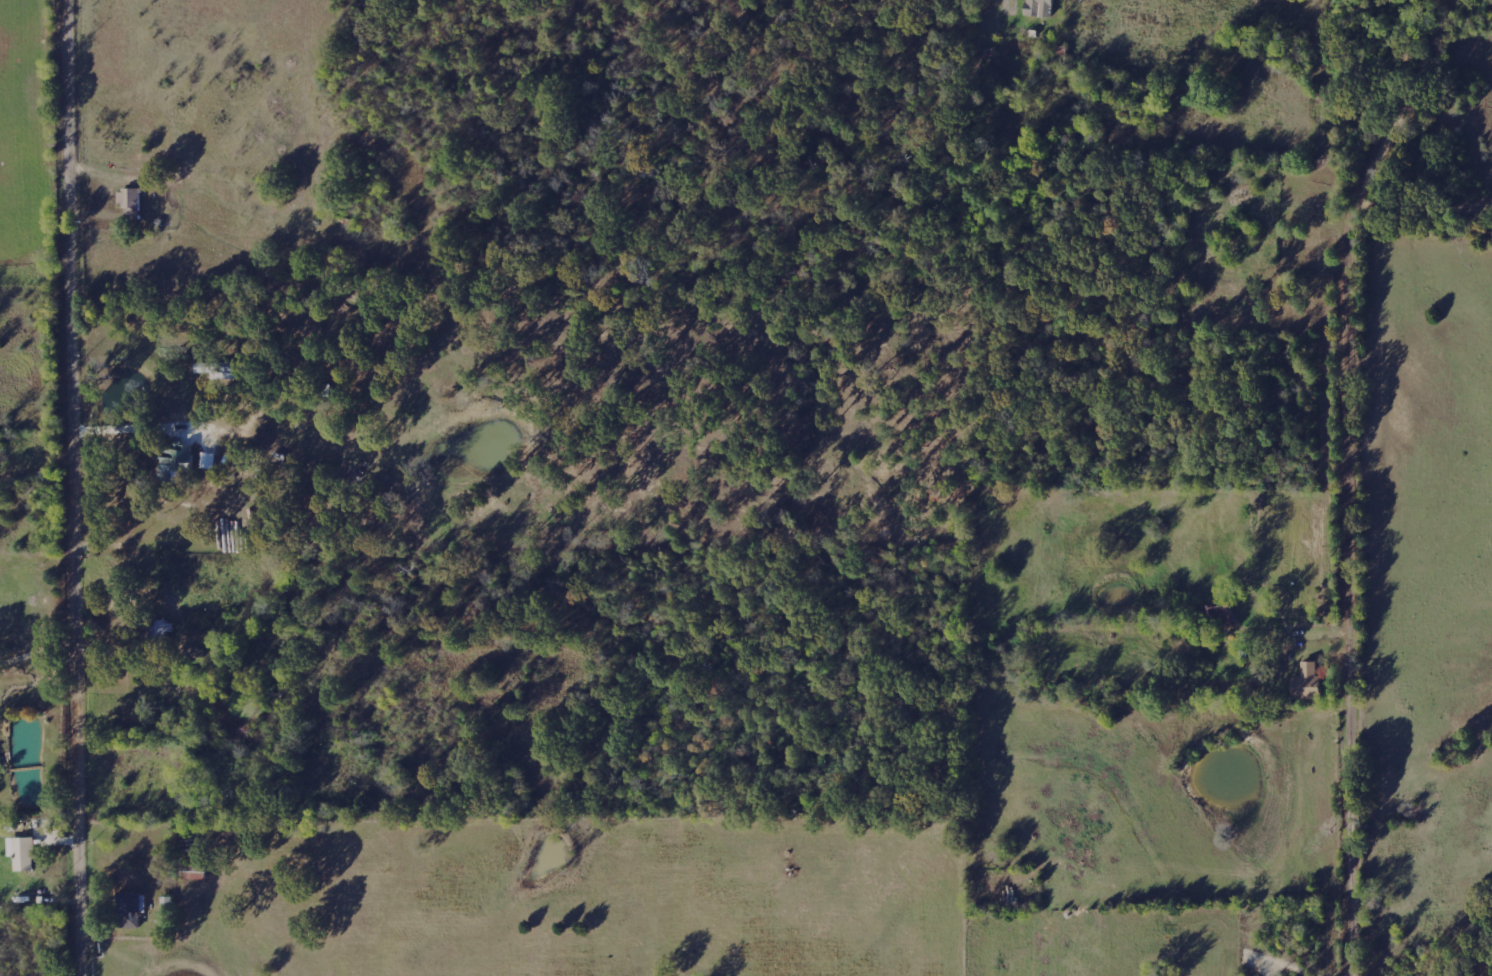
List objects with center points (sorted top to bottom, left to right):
building: (1040, 8)
building: (131, 201)
building: (209, 461)
building: (177, 465)
road: (1358, 476)
road: (72, 488)
building: (1222, 612)
building: (1308, 683)
building: (23, 853)
building: (194, 872)
building: (132, 909)

